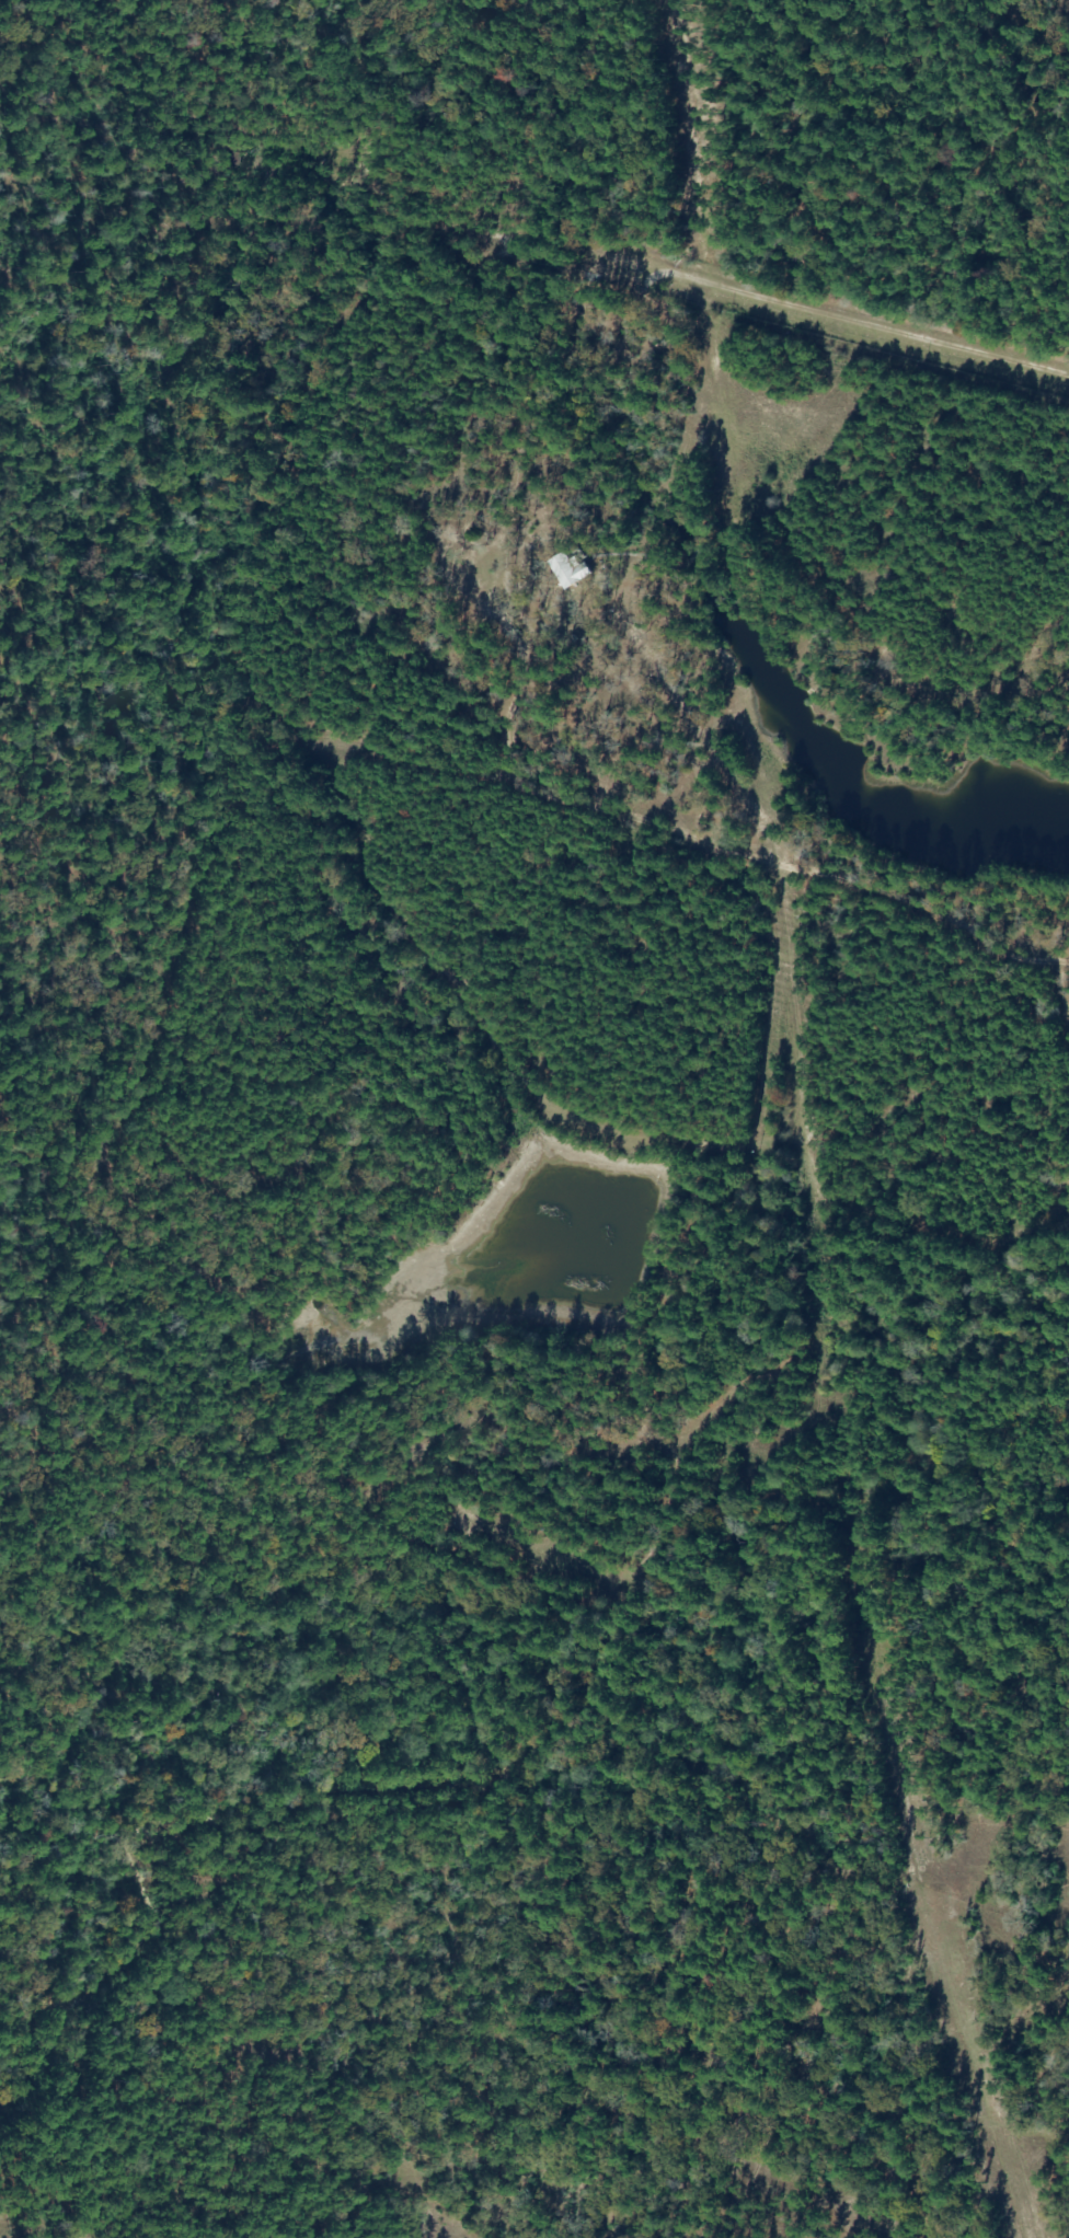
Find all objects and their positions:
road: (1039, 36)
road: (1016, 82)
road: (880, 293)
building: (556, 562)

